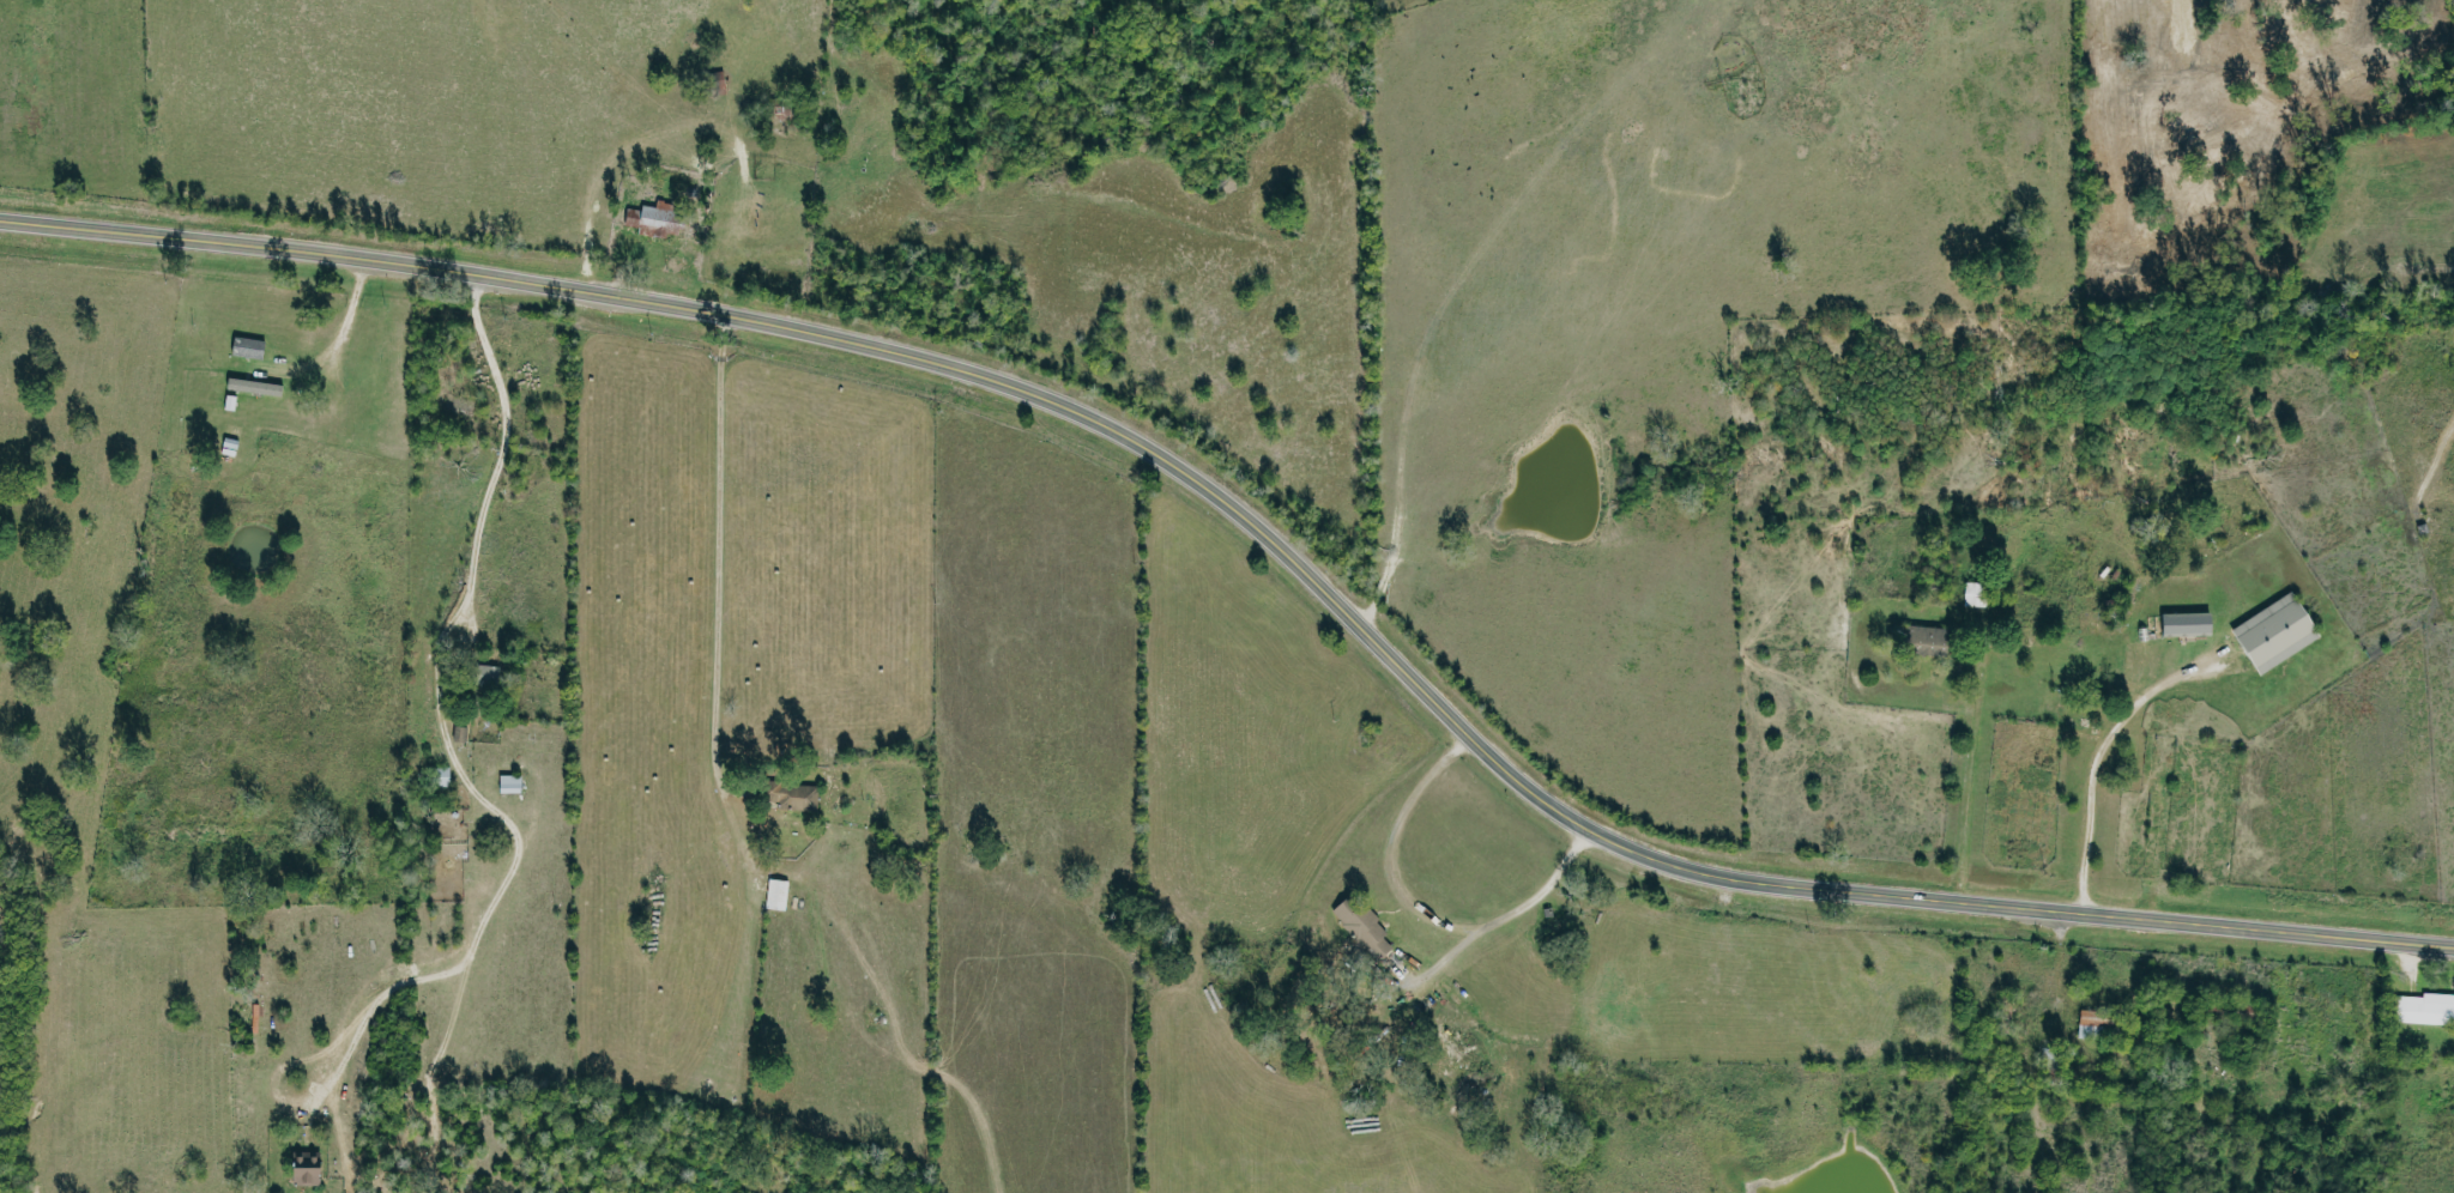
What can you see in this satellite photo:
building: (653, 220)
building: (243, 347)
building: (250, 386)
road: (1261, 534)
road: (718, 555)
building: (2183, 623)
building: (2272, 632)
building: (1923, 640)
building: (480, 674)
road: (437, 726)
building: (457, 734)
building: (439, 776)
building: (508, 783)
building: (790, 797)
road: (1386, 847)
building: (775, 894)
road: (1504, 915)
building: (1359, 925)
building: (2425, 1009)
building: (2091, 1023)
building: (302, 1170)

